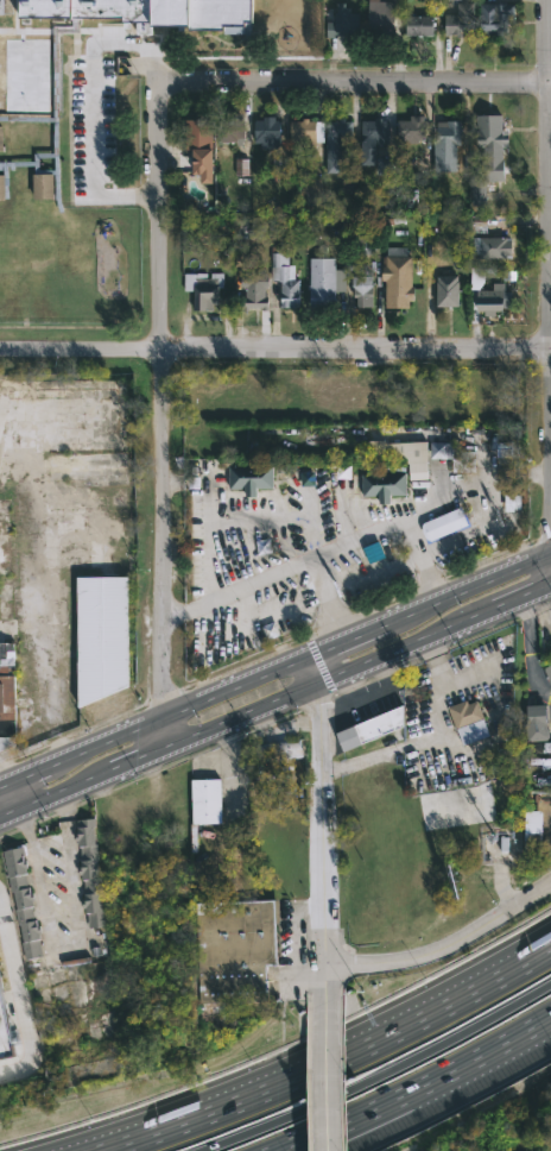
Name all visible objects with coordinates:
building: (5, 6)
building: (382, 17)
building: (496, 17)
building: (461, 20)
building: (343, 21)
building: (419, 25)
building: (56, 83)
road: (354, 87)
building: (412, 127)
building: (492, 128)
building: (230, 130)
building: (303, 130)
building: (267, 132)
building: (1, 137)
building: (373, 138)
building: (446, 140)
building: (198, 143)
building: (337, 144)
building: (385, 166)
building: (311, 190)
road: (547, 195)
building: (494, 247)
building: (284, 277)
building: (398, 277)
building: (476, 278)
building: (337, 279)
building: (203, 288)
building: (448, 289)
building: (255, 291)
building: (489, 301)
road: (274, 348)
road: (161, 417)
building: (502, 448)
building: (438, 449)
building: (404, 454)
building: (464, 463)
building: (251, 478)
building: (386, 483)
road: (207, 518)
road: (275, 518)
building: (443, 523)
road: (384, 530)
road: (550, 566)
road: (427, 575)
road: (550, 581)
road: (515, 596)
road: (325, 598)
building: (101, 636)
road: (528, 652)
road: (274, 665)
building: (549, 673)
road: (329, 679)
building: (7, 696)
road: (281, 718)
building: (469, 722)
building: (537, 723)
building: (370, 729)
road: (322, 741)
building: (277, 750)
road: (142, 754)
road: (224, 766)
road: (57, 792)
road: (13, 794)
building: (204, 805)
building: (533, 831)
building: (89, 873)
road: (322, 898)
building: (23, 902)
road: (64, 937)
building: (234, 952)
road: (444, 955)
road: (323, 990)
road: (17, 995)
building: (5, 1037)
road: (329, 1061)
road: (342, 1069)
road: (310, 1071)
road: (380, 1075)
road: (325, 1084)
road: (416, 1088)

